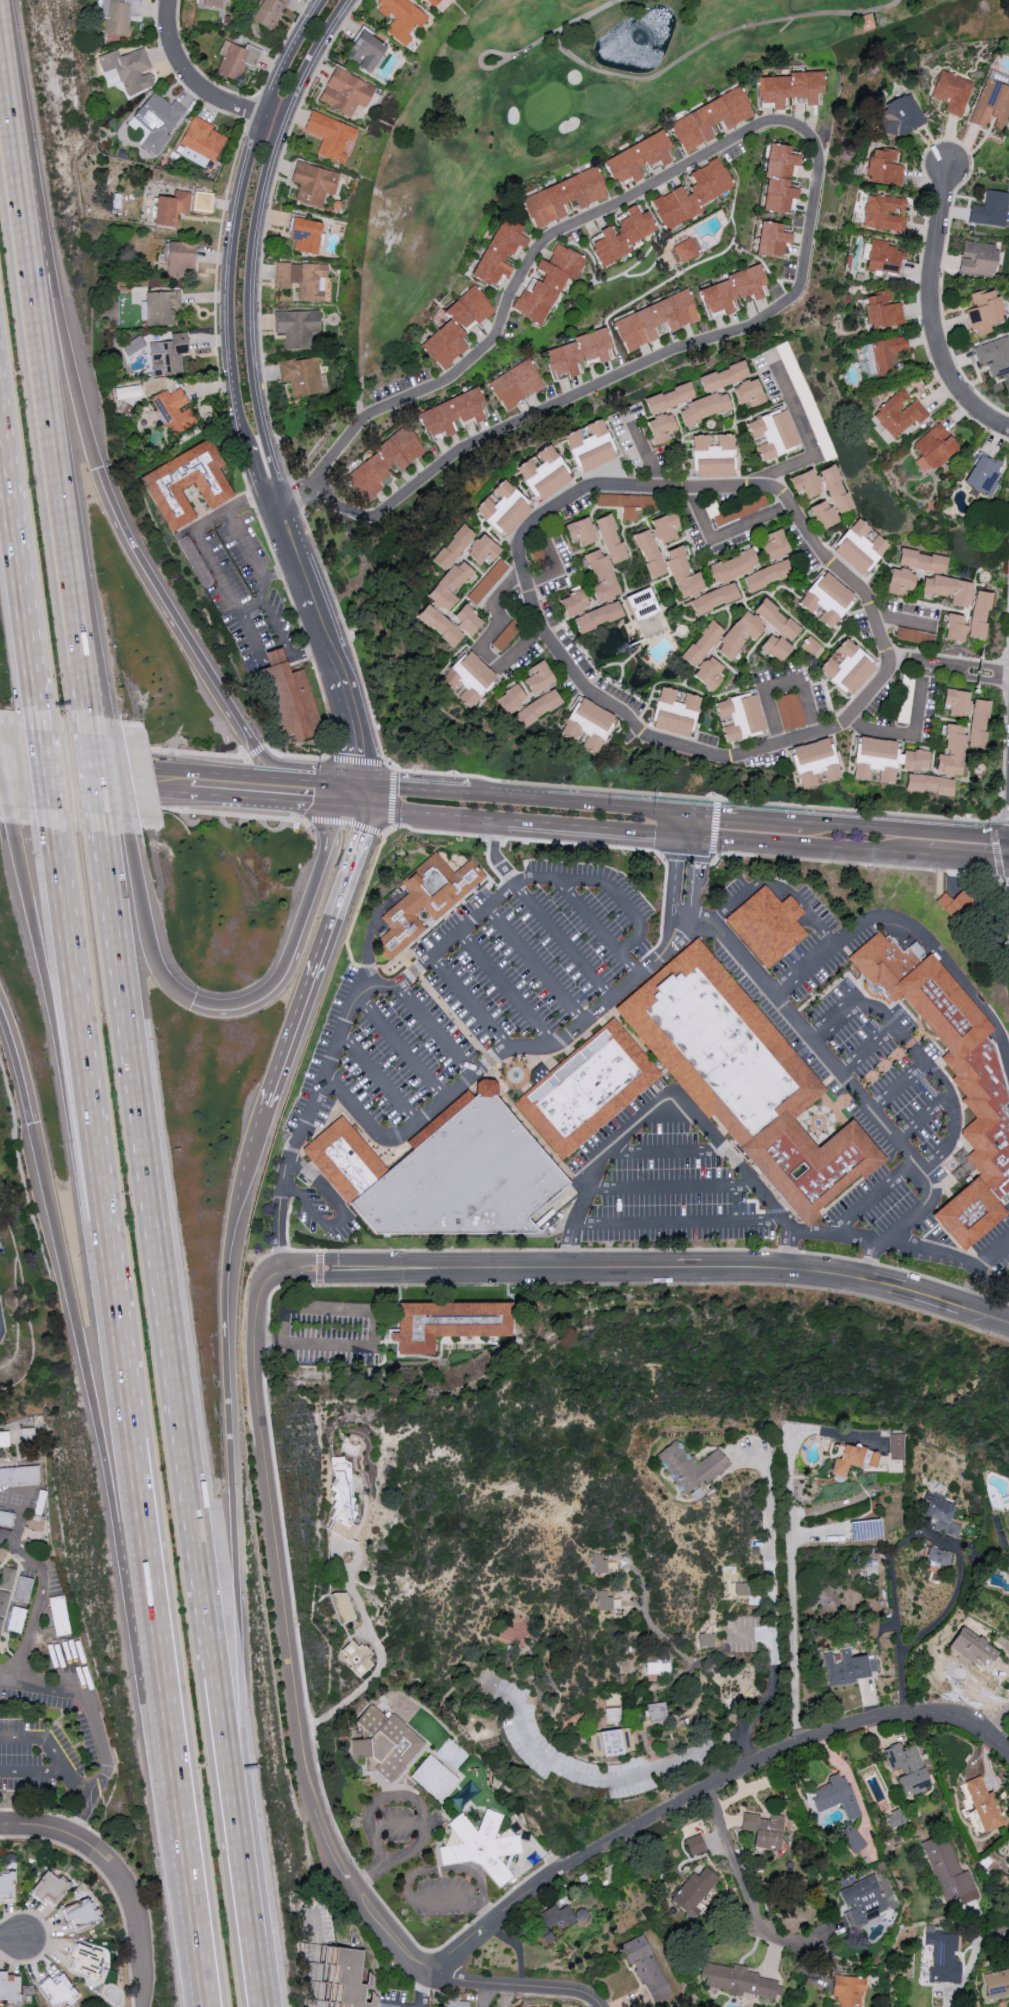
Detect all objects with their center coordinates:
building: (432, 2)
building: (209, 3)
building: (269, 12)
building: (120, 15)
building: (401, 18)
road: (563, 29)
road: (713, 39)
building: (365, 51)
road: (499, 53)
building: (236, 59)
building: (127, 70)
road: (199, 84)
building: (789, 88)
building: (345, 92)
building: (952, 92)
building: (991, 105)
building: (900, 116)
building: (709, 119)
building: (158, 121)
building: (330, 136)
building: (202, 138)
building: (637, 157)
road: (820, 158)
building: (883, 167)
building: (779, 180)
building: (314, 183)
building: (692, 194)
building: (563, 197)
building: (202, 201)
building: (171, 208)
road: (377, 209)
building: (990, 209)
building: (884, 212)
road: (48, 233)
road: (256, 233)
building: (304, 235)
building: (622, 235)
road: (235, 237)
building: (771, 239)
road: (30, 241)
building: (685, 250)
building: (499, 251)
building: (884, 257)
building: (180, 258)
building: (977, 259)
building: (302, 280)
building: (548, 283)
building: (730, 290)
building: (160, 307)
building: (882, 310)
road: (934, 311)
building: (984, 311)
building: (654, 320)
building: (455, 326)
building: (297, 327)
building: (133, 345)
building: (577, 352)
building: (168, 354)
building: (887, 354)
building: (994, 355)
building: (303, 376)
building: (722, 376)
building: (515, 384)
building: (127, 391)
building: (748, 392)
building: (668, 398)
building: (703, 408)
building: (173, 411)
building: (451, 413)
building: (899, 413)
building: (661, 427)
building: (773, 433)
road: (809, 438)
building: (589, 446)
building: (934, 448)
road: (646, 455)
building: (713, 456)
building: (382, 463)
building: (543, 473)
building: (983, 475)
building: (186, 483)
building: (806, 483)
building: (835, 489)
road: (276, 495)
road: (296, 497)
building: (626, 503)
road: (234, 508)
building: (502, 508)
building: (823, 515)
road: (17, 520)
building: (664, 528)
building: (581, 531)
road: (726, 531)
building: (610, 539)
road: (249, 543)
building: (774, 545)
building: (452, 547)
building: (859, 547)
building: (482, 549)
building: (649, 553)
building: (922, 561)
road: (558, 566)
building: (731, 566)
building: (682, 573)
road: (219, 574)
building: (767, 575)
building: (600, 576)
building: (486, 581)
building: (900, 581)
road: (265, 582)
building: (449, 585)
road: (310, 586)
building: (948, 589)
road: (76, 598)
building: (713, 598)
building: (827, 599)
road: (91, 600)
building: (573, 602)
road: (168, 606)
building: (645, 612)
building: (979, 615)
building: (597, 616)
road: (905, 618)
building: (776, 619)
building: (467, 620)
road: (541, 623)
building: (439, 625)
road: (275, 626)
building: (954, 628)
building: (739, 634)
building: (912, 636)
road: (252, 640)
road: (480, 640)
building: (702, 643)
building: (775, 647)
road: (296, 651)
road: (952, 667)
building: (847, 668)
building: (709, 672)
building: (539, 677)
building: (468, 679)
road: (783, 684)
road: (36, 692)
building: (511, 698)
building: (956, 702)
building: (291, 703)
building: (537, 708)
building: (789, 711)
building: (674, 712)
building: (741, 716)
building: (978, 723)
road: (365, 724)
building: (587, 725)
road: (343, 726)
road: (908, 734)
road: (123, 747)
road: (257, 750)
building: (950, 751)
road: (295, 756)
road: (357, 760)
building: (884, 760)
building: (814, 763)
road: (47, 771)
road: (171, 771)
road: (291, 771)
road: (99, 776)
road: (120, 778)
building: (927, 784)
road: (94, 785)
traffic signals: (343, 785)
road: (358, 786)
traffic signals: (373, 788)
road: (422, 791)
road: (340, 795)
road: (689, 796)
road: (7, 797)
road: (232, 797)
road: (372, 798)
road: (393, 798)
road: (581, 802)
road: (306, 803)
traffic signals: (337, 806)
road: (152, 807)
road: (354, 807)
traffic signals: (371, 809)
traffic signals: (691, 811)
road: (439, 815)
road: (747, 815)
road: (345, 821)
road: (690, 824)
road: (906, 829)
road: (599, 830)
road: (465, 834)
traffic signals: (689, 838)
road: (809, 847)
road: (997, 847)
road: (712, 854)
road: (495, 855)
road: (970, 857)
road: (890, 866)
road: (674, 875)
road: (693, 877)
road: (780, 887)
building: (425, 901)
building: (952, 904)
road: (440, 919)
road: (144, 927)
road: (598, 927)
building: (767, 927)
road: (293, 937)
road: (369, 938)
road: (563, 940)
road: (318, 957)
road: (822, 958)
road: (535, 965)
road: (952, 969)
parking lot: (495, 988)
road: (507, 989)
road: (364, 992)
road: (55, 996)
road: (76, 999)
road: (471, 1001)
road: (449, 1013)
road: (434, 1030)
road: (544, 1046)
road: (400, 1047)
road: (821, 1048)
road: (866, 1050)
road: (916, 1055)
parking lot: (856, 1061)
road: (15, 1068)
fountain: (518, 1075)
road: (378, 1078)
building: (748, 1080)
road: (897, 1085)
building: (589, 1089)
building: (986, 1092)
road: (353, 1104)
road: (922, 1118)
road: (628, 1135)
road: (249, 1144)
road: (667, 1151)
building: (347, 1160)
road: (733, 1161)
building: (467, 1175)
parking lot: (666, 1179)
road: (671, 1187)
road: (559, 1198)
road: (874, 1198)
road: (575, 1220)
road: (681, 1222)
road: (909, 1223)
road: (279, 1227)
road: (812, 1233)
road: (945, 1255)
road: (870, 1260)
road: (642, 1267)
road: (169, 1310)
road: (368, 1314)
building: (447, 1323)
parking lot: (332, 1331)
road: (98, 1422)
building: (4, 1439)
road: (131, 1444)
building: (895, 1445)
building: (852, 1459)
building: (690, 1466)
building: (19, 1476)
road: (230, 1483)
building: (341, 1499)
building: (940, 1514)
building: (33, 1522)
road: (772, 1538)
road: (907, 1538)
building: (1, 1552)
building: (937, 1559)
building: (598, 1563)
building: (741, 1589)
building: (4, 1590)
road: (792, 1609)
road: (370, 1631)
building: (705, 1640)
building: (972, 1648)
building: (356, 1657)
building: (845, 1668)
road: (772, 1672)
road: (11, 1676)
road: (46, 1686)
building: (655, 1712)
road: (995, 1717)
road: (300, 1730)
parking lot: (56, 1739)
building: (611, 1742)
building: (384, 1743)
road: (59, 1761)
building: (907, 1768)
building: (434, 1777)
road: (612, 1780)
road: (80, 1781)
road: (705, 1788)
building: (834, 1796)
road: (402, 1797)
building: (983, 1804)
road: (53, 1812)
building: (894, 1818)
road: (397, 1825)
building: (764, 1830)
road: (59, 1832)
building: (850, 1837)
building: (695, 1844)
building: (481, 1846)
road: (188, 1864)
building: (947, 1870)
road: (413, 1877)
road: (372, 1879)
building: (7, 1887)
building: (50, 1889)
road: (745, 1889)
building: (693, 1892)
road: (247, 1895)
building: (863, 1901)
road: (489, 1913)
building: (83, 1914)
building: (553, 1920)
road: (1003, 1930)
road: (137, 1931)
road: (11, 1937)
building: (943, 1956)
building: (84, 1960)
building: (646, 1968)
building: (352, 1977)
building: (735, 1980)
building: (996, 1982)
building: (9, 1986)
building: (57, 1988)
road: (427, 1989)
building: (848, 1991)
building: (457, 2004)

